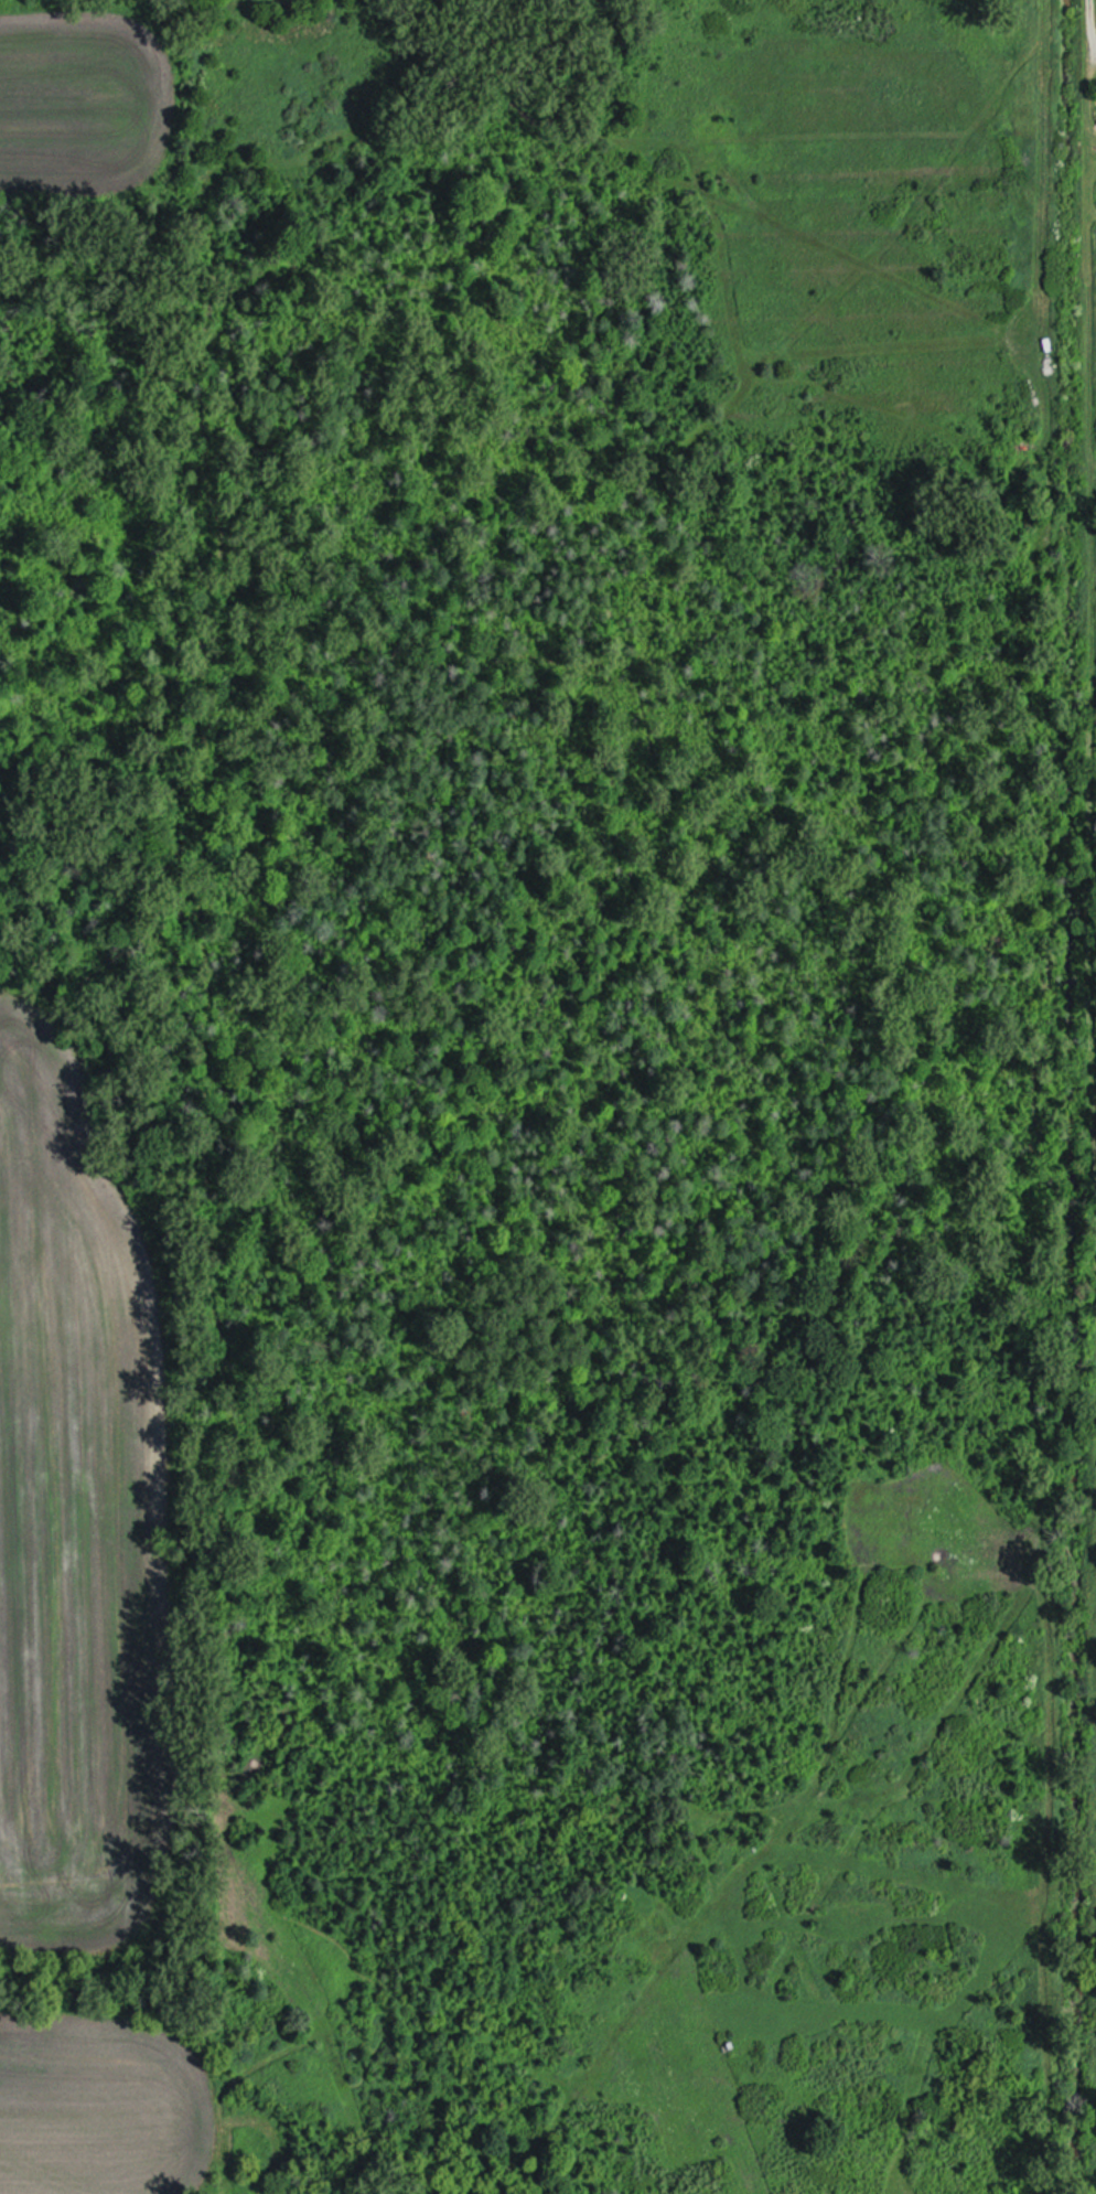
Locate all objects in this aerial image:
road: (1079, 26)

